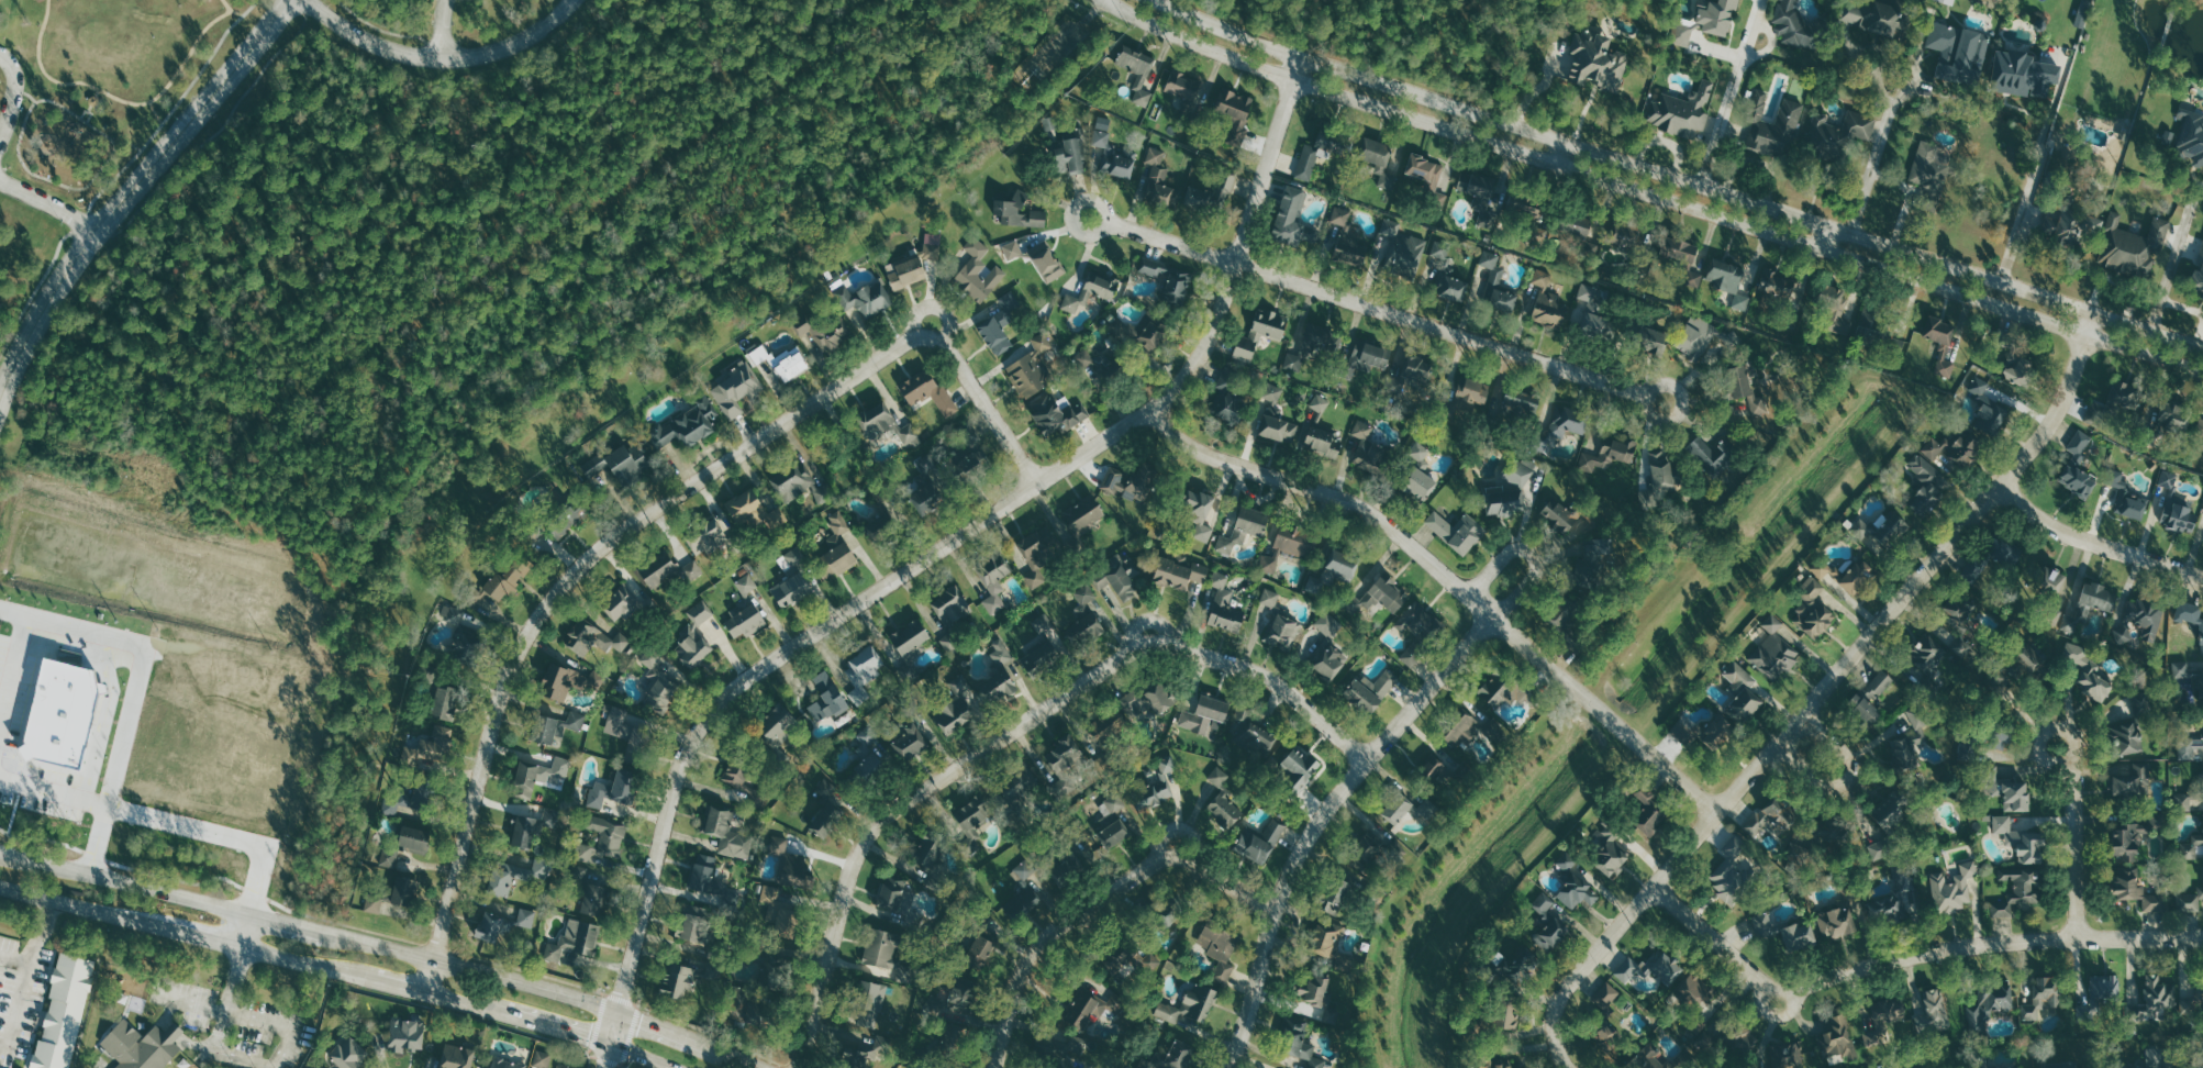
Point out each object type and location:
building: (1948, 1)
road: (229, 10)
building: (1873, 15)
building: (1705, 21)
building: (1792, 27)
road: (440, 29)
road: (438, 60)
building: (1596, 62)
building: (1136, 71)
building: (2022, 74)
building: (1182, 85)
road: (13, 91)
road: (26, 93)
road: (118, 99)
building: (1680, 110)
building: (1234, 111)
road: (168, 112)
road: (154, 113)
road: (1721, 120)
building: (1773, 125)
building: (1839, 132)
building: (2191, 136)
road: (126, 142)
park: (68, 144)
road: (1877, 144)
road: (18, 148)
road: (1556, 152)
building: (1069, 156)
building: (1114, 156)
building: (1312, 157)
building: (1377, 158)
building: (1932, 174)
building: (1157, 178)
building: (1427, 178)
road: (1677, 178)
road: (134, 186)
building: (1475, 186)
building: (1209, 194)
road: (1653, 196)
road: (2026, 201)
road: (48, 205)
building: (1522, 208)
building: (1019, 212)
building: (1340, 215)
building: (1290, 216)
building: (1577, 224)
building: (2066, 226)
building: (1390, 227)
road: (1099, 234)
building: (1626, 235)
road: (1820, 237)
building: (933, 243)
building: (2130, 245)
building: (977, 247)
building: (1351, 247)
building: (1592, 247)
building: (1440, 248)
building: (1012, 249)
building: (1404, 255)
road: (2173, 255)
building: (1682, 258)
building: (1046, 262)
building: (1154, 268)
building: (904, 271)
building: (2198, 271)
building: (1725, 275)
building: (1542, 277)
building: (979, 278)
building: (1495, 285)
building: (1783, 285)
building: (1176, 286)
building: (1451, 287)
building: (1091, 291)
building: (1587, 294)
building: (865, 298)
building: (1742, 301)
building: (1010, 308)
building: (1549, 308)
road: (933, 310)
building: (1835, 311)
road: (1387, 312)
building: (1595, 325)
building: (1867, 326)
building: (827, 332)
building: (1259, 332)
building: (1142, 334)
building: (994, 335)
building: (1694, 336)
building: (1322, 338)
building: (1650, 341)
building: (1042, 343)
building: (1944, 349)
building: (1366, 358)
building: (1294, 361)
building: (1095, 363)
building: (2018, 369)
building: (1416, 370)
building: (1027, 375)
building: (919, 387)
building: (737, 388)
building: (1743, 388)
building: (1471, 391)
building: (1272, 392)
building: (2124, 394)
building: (1227, 403)
building: (1520, 403)
building: (1989, 409)
building: (1056, 414)
building: (2172, 414)
building: (687, 424)
building: (886, 424)
building: (2200, 426)
building: (1277, 427)
building: (1560, 429)
building: (1322, 441)
building: (2079, 445)
building: (1371, 447)
building: (1956, 447)
building: (1418, 453)
building: (1609, 454)
building: (1712, 454)
building: (619, 466)
building: (950, 467)
building: (1661, 470)
building: (2168, 478)
building: (2077, 480)
building: (793, 481)
building: (1418, 483)
building: (1123, 485)
building: (1927, 486)
building: (1510, 489)
building: (821, 492)
building: (2125, 496)
building: (921, 498)
building: (752, 510)
building: (1202, 512)
building: (2178, 514)
building: (1082, 515)
building: (1558, 515)
road: (635, 522)
building: (878, 527)
building: (1243, 529)
building: (1456, 531)
building: (1880, 531)
building: (708, 537)
road: (2095, 544)
road: (943, 545)
building: (1288, 548)
building: (835, 549)
road: (1527, 554)
building: (1041, 555)
building: (795, 556)
building: (1342, 565)
building: (1825, 569)
building: (667, 570)
building: (1179, 574)
building: (2041, 576)
building: (1857, 578)
building: (1116, 579)
building: (994, 580)
road: (1450, 580)
building: (501, 581)
building: (791, 589)
building: (476, 597)
building: (1378, 597)
building: (1270, 598)
building: (621, 602)
building: (950, 605)
building: (1224, 605)
building: (2090, 607)
building: (1813, 609)
building: (744, 611)
building: (700, 612)
building: (1087, 614)
building: (1561, 614)
building: (2052, 615)
building: (2151, 620)
building: (2189, 620)
road: (1147, 622)
building: (1416, 623)
building: (1282, 632)
building: (459, 634)
building: (2123, 634)
building: (592, 637)
building: (910, 637)
building: (949, 644)
building: (692, 646)
building: (1327, 648)
building: (1000, 652)
building: (1774, 652)
building: (1039, 655)
building: (650, 657)
building: (1410, 657)
building: (2025, 661)
building: (2180, 669)
building: (2089, 671)
road: (14, 679)
building: (2198, 680)
building: (560, 682)
building: (1878, 686)
building: (660, 690)
building: (1370, 691)
building: (1742, 691)
building: (1501, 692)
road: (138, 696)
road: (1821, 696)
building: (827, 698)
building: (971, 699)
building: (1149, 699)
building: (444, 703)
building: (1863, 711)
building: (1204, 714)
building: (555, 726)
building: (630, 730)
building: (777, 730)
building: (1473, 731)
building: (1251, 732)
building: (1705, 732)
road: (1010, 733)
building: (2125, 738)
building: (2001, 739)
building: (909, 742)
building: (1905, 745)
building: (2189, 747)
building: (430, 748)
road: (1814, 749)
building: (1064, 755)
building: (1298, 767)
building: (735, 774)
building: (537, 775)
building: (1219, 776)
building: (2130, 780)
building: (2201, 781)
building: (624, 783)
building: (1021, 783)
building: (1156, 788)
building: (2009, 791)
road: (55, 793)
building: (597, 794)
building: (407, 799)
building: (2183, 802)
building: (825, 810)
building: (1225, 810)
building: (1397, 810)
building: (1645, 811)
building: (1889, 813)
building: (550, 817)
road: (1321, 817)
building: (1772, 819)
building: (972, 821)
building: (2156, 821)
road: (1180, 827)
building: (524, 831)
building: (727, 834)
building: (608, 835)
road: (218, 837)
building: (413, 839)
building: (2020, 839)
road: (2077, 839)
building: (1259, 842)
building: (2127, 843)
building: (777, 845)
building: (2192, 847)
building: (1368, 848)
building: (1609, 852)
building: (583, 853)
building: (928, 854)
road: (8, 855)
building: (389, 856)
building: (797, 869)
building: (1733, 870)
building: (505, 877)
building: (712, 882)
building: (1575, 885)
road: (132, 886)
building: (1952, 889)
building: (2135, 889)
building: (2017, 890)
building: (404, 892)
building: (891, 892)
building: (1337, 898)
building: (597, 899)
road: (1098, 901)
building: (2190, 901)
building: (1885, 908)
building: (776, 909)
building: (525, 917)
building: (1837, 921)
building: (692, 923)
building: (1548, 924)
building: (1762, 924)
road: (292, 925)
building: (490, 927)
road: (173, 930)
road: (244, 931)
building: (1796, 936)
building: (575, 939)
building: (1328, 943)
building: (1219, 948)
building: (881, 949)
road: (13, 957)
road: (1903, 959)
building: (1649, 968)
road: (478, 971)
road: (24, 974)
building: (677, 980)
building: (133, 982)
road: (383, 983)
building: (2104, 988)
building: (1693, 990)
traffic signals: (623, 992)
building: (2154, 997)
road: (455, 1002)
building: (869, 1003)
building: (2190, 1003)
building: (1989, 1004)
building: (1189, 1005)
building: (1088, 1008)
building: (1937, 1009)
building: (63, 1012)
building: (1505, 1016)
building: (1882, 1017)
traffic signals: (643, 1021)
road: (274, 1024)
road: (548, 1028)
road: (222, 1030)
road: (670, 1031)
building: (405, 1035)
building: (952, 1036)
traffic signals: (586, 1039)
building: (1742, 1041)
building: (1301, 1043)
building: (142, 1045)
building: (866, 1053)
building: (347, 1054)
building: (1178, 1055)
road: (605, 1056)
building: (456, 1057)
road: (636, 1057)
building: (1792, 1057)
building: (542, 1059)
building: (1648, 1059)
road: (741, 1060)
building: (504, 1064)
building: (1505, 1065)
building: (563, 1066)
building: (2065, 1066)
building: (2198, 1066)
traffic signals: (603, 1067)

